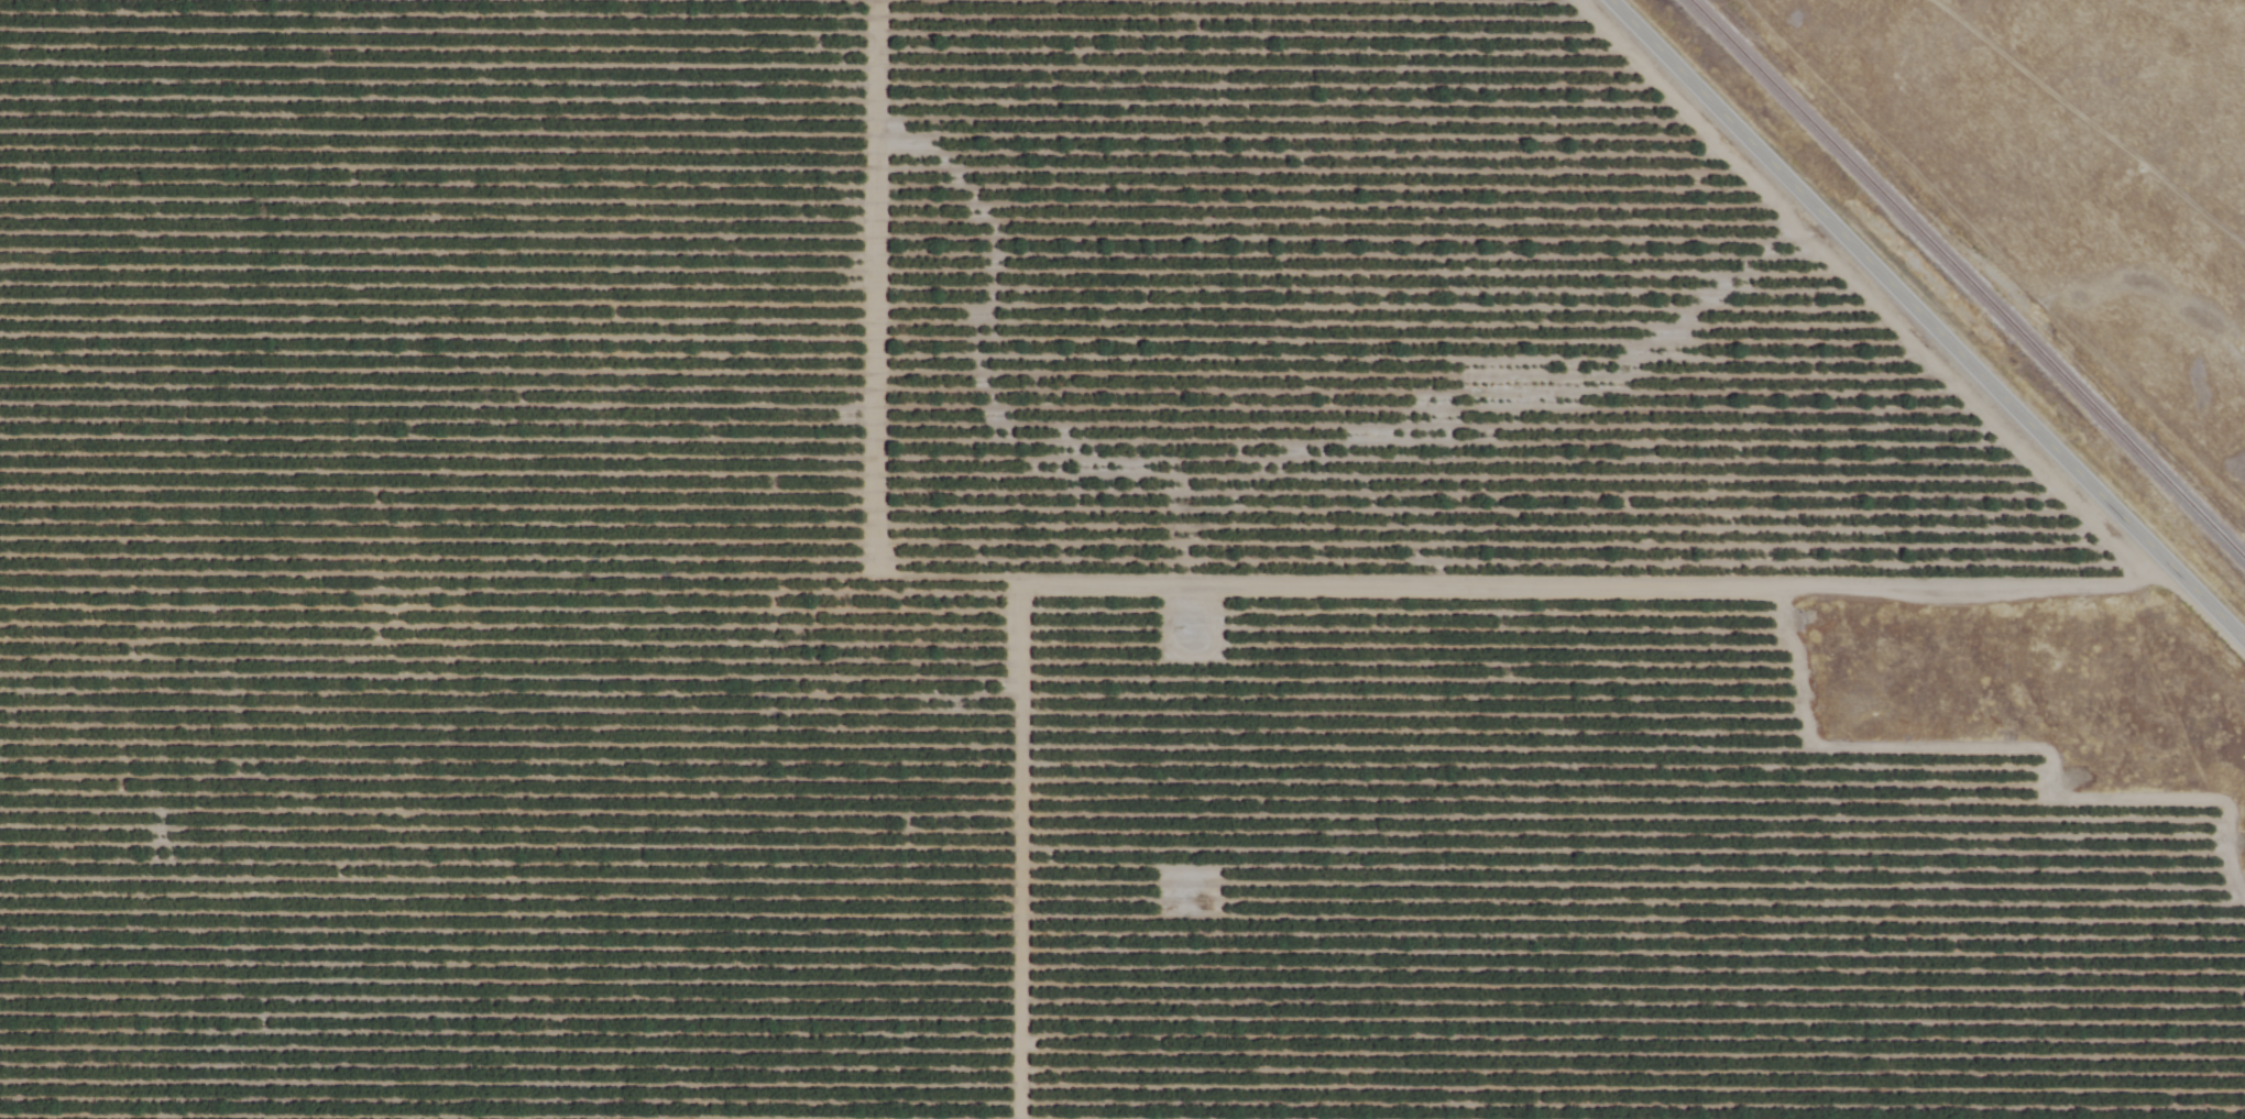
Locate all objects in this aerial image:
railway: (1965, 282)
road: (1925, 321)
crop: (1005, 589)

